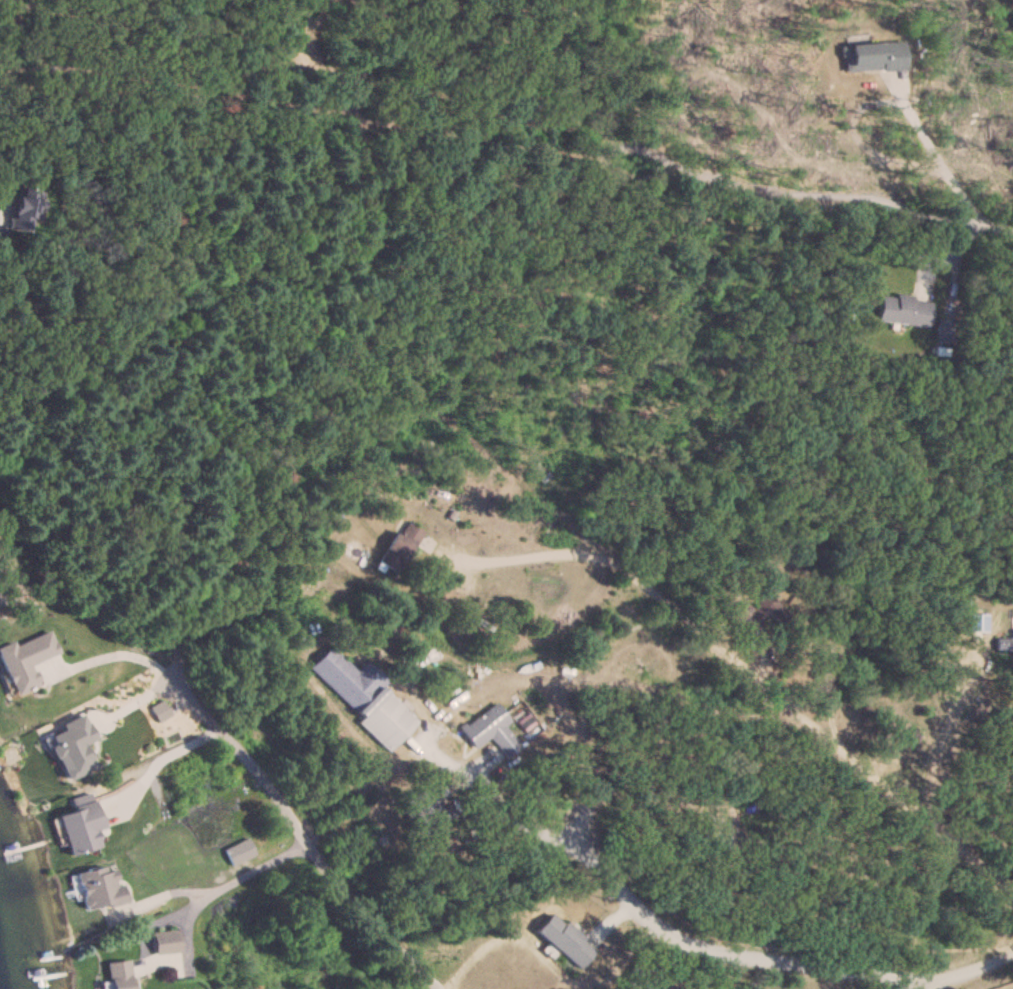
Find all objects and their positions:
building: (873, 56)
road: (882, 100)
road: (604, 159)
road: (858, 197)
building: (24, 207)
building: (903, 309)
building: (944, 329)
building: (399, 545)
building: (757, 616)
building: (1005, 642)
road: (125, 654)
building: (25, 659)
road: (752, 682)
building: (363, 697)
building: (489, 730)
road: (951, 731)
road: (155, 753)
road: (492, 799)
building: (427, 808)
building: (81, 827)
road: (301, 836)
road: (219, 884)
building: (99, 887)
road: (174, 913)
building: (564, 940)
building: (165, 942)
road: (480, 949)
road: (772, 964)
building: (118, 975)
building: (640, 978)
road: (917, 985)

